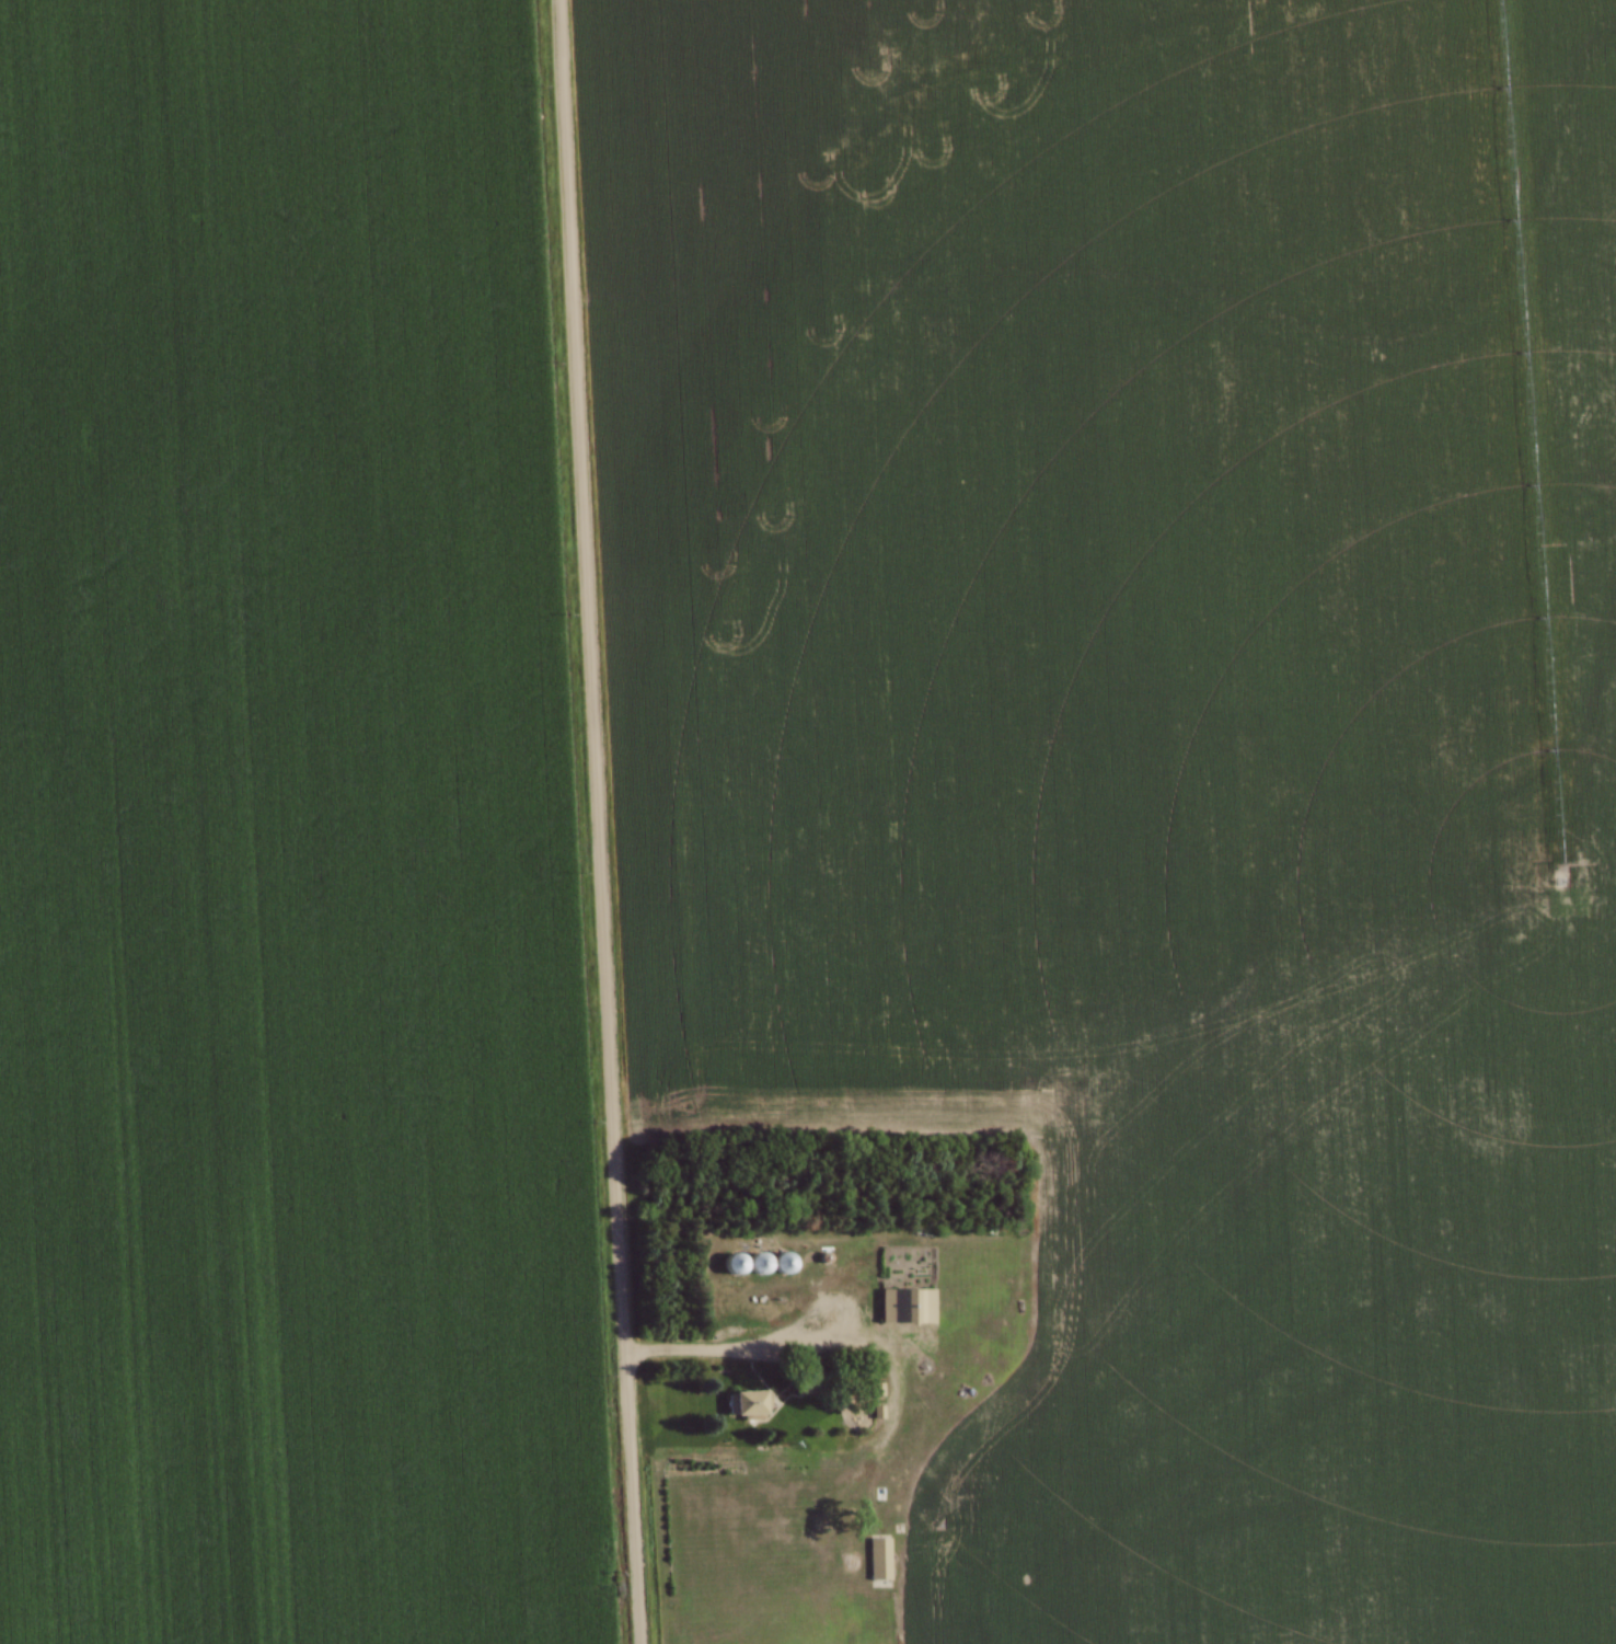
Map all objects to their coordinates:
road: (598, 821)
building: (734, 1264)
building: (759, 1264)
building: (783, 1264)
building: (905, 1308)
road: (705, 1349)
building: (746, 1405)
building: (879, 1560)

